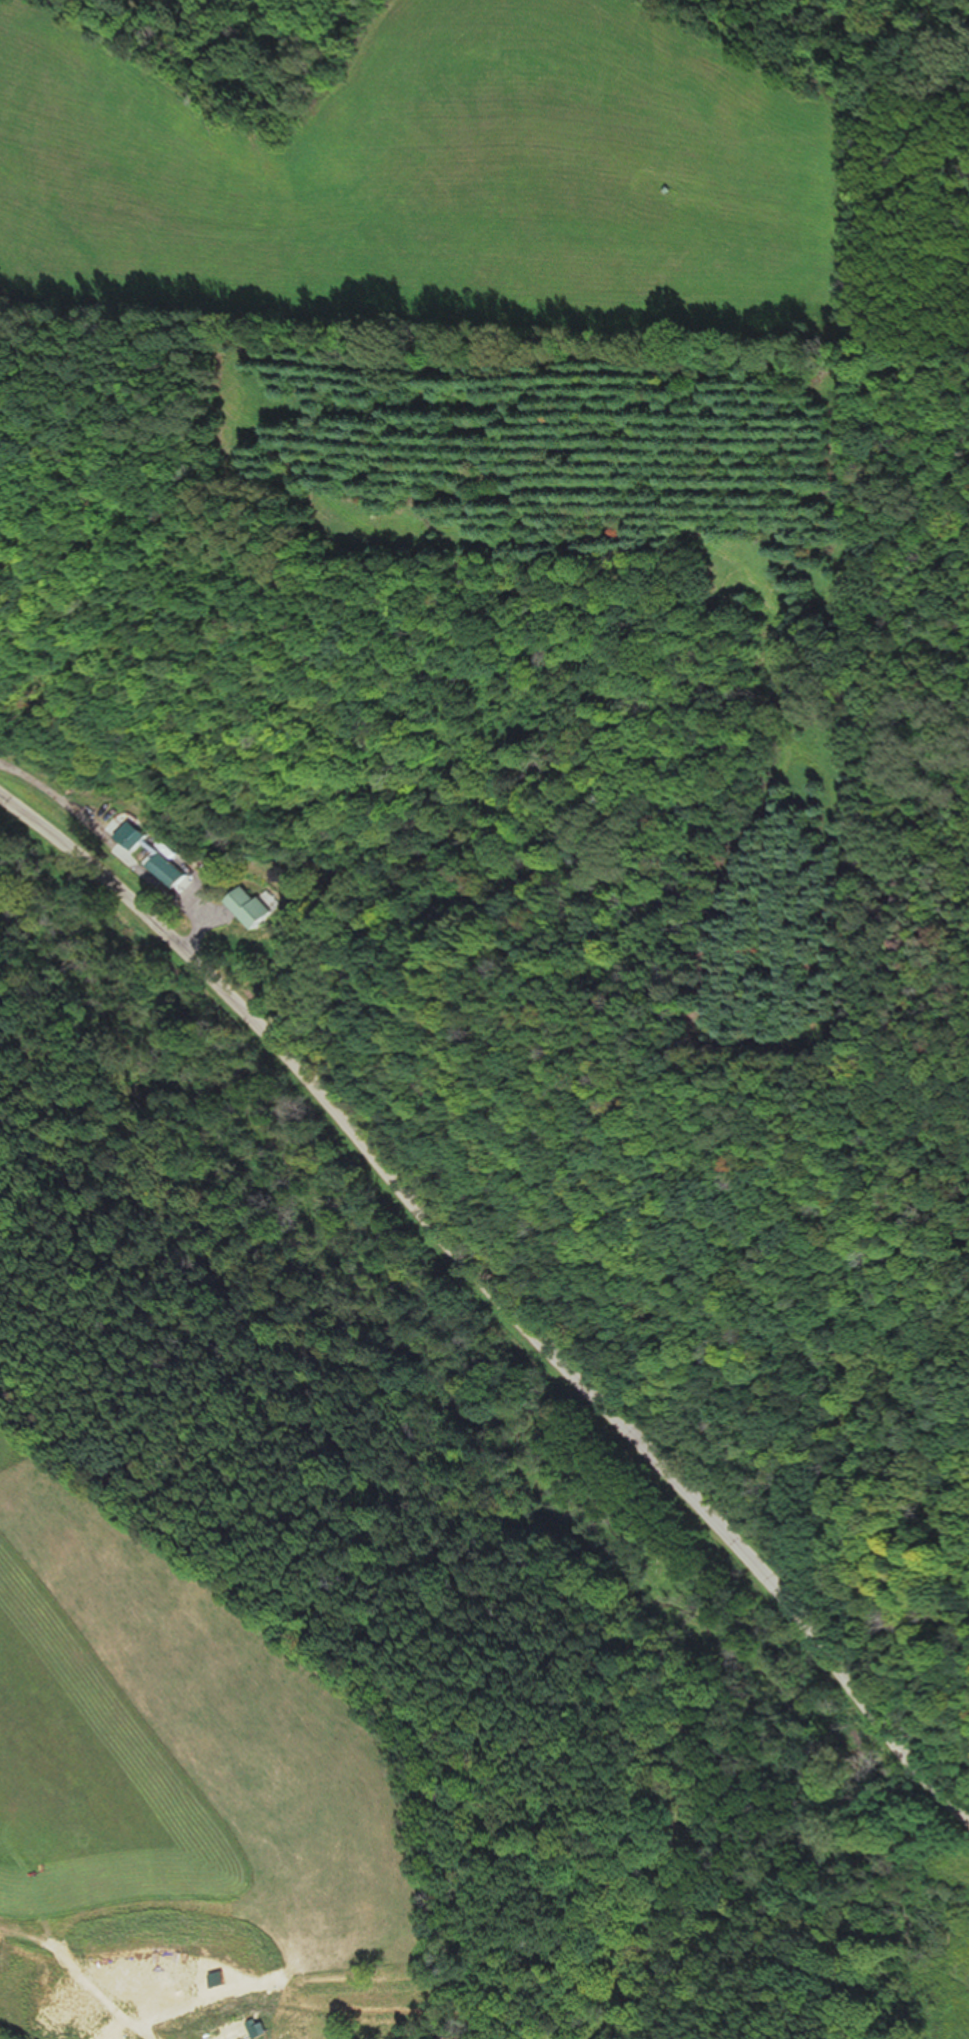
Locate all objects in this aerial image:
building: (131, 838)
building: (166, 872)
building: (252, 910)
road: (497, 1290)
building: (239, 2026)

